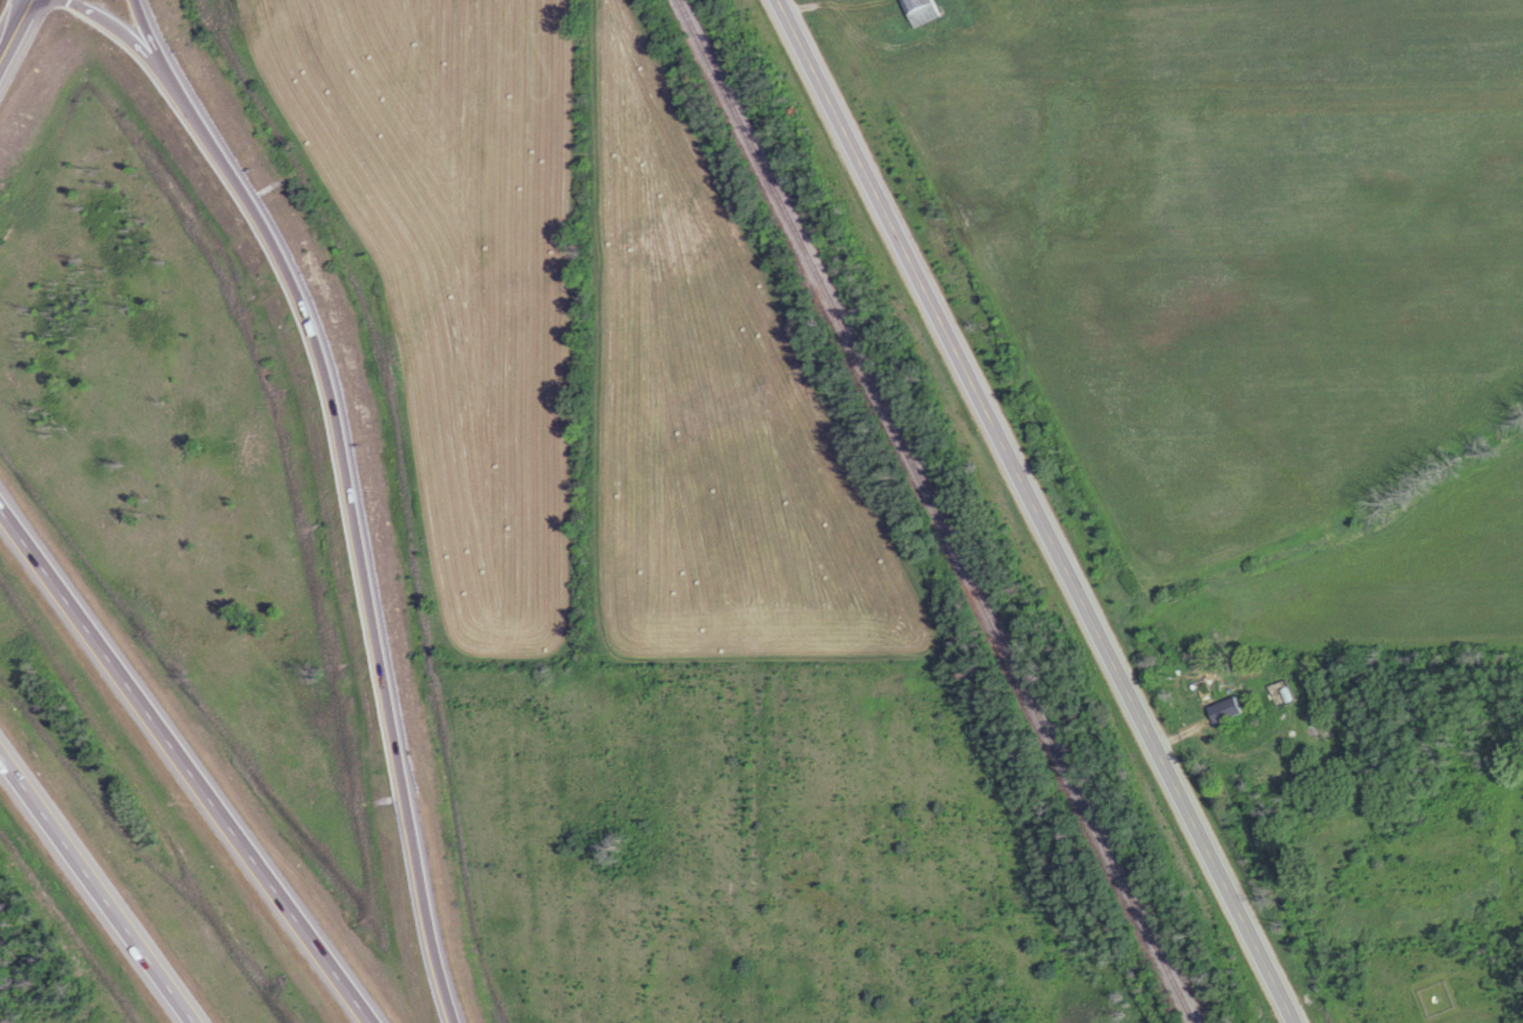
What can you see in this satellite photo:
building: (919, 11)
road: (10, 20)
road: (146, 29)
road: (358, 469)
railway: (938, 510)
road: (1043, 511)
building: (1206, 685)
building: (1225, 710)
road: (186, 765)
road: (99, 886)

